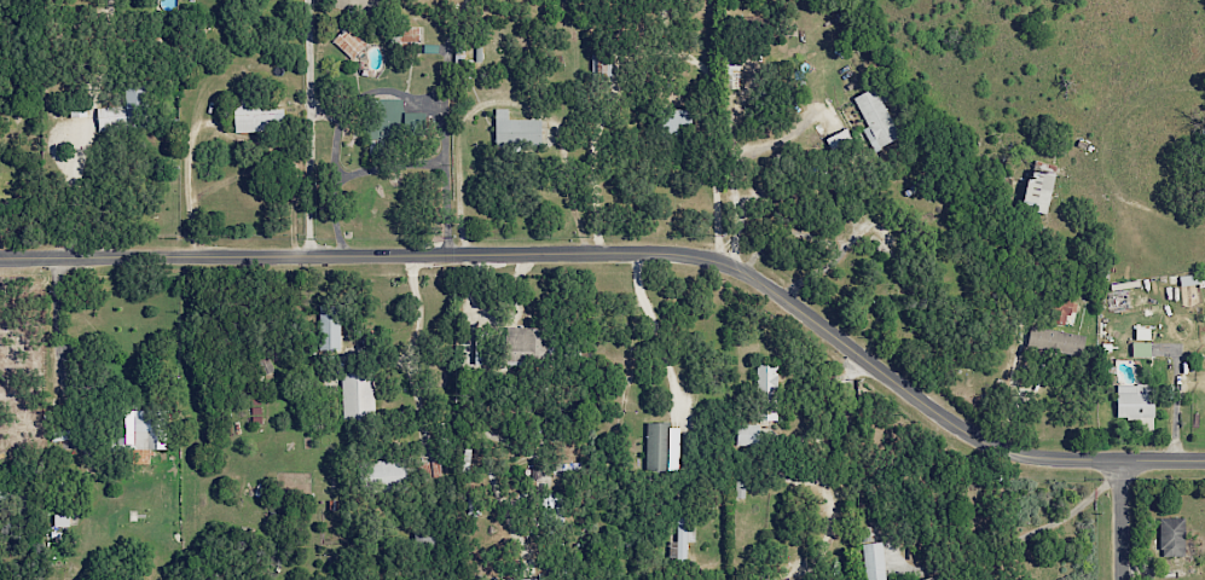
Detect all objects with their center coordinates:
building: (411, 30)
building: (348, 41)
building: (601, 65)
road: (386, 88)
building: (121, 111)
building: (256, 115)
building: (875, 118)
building: (676, 121)
building: (389, 123)
road: (308, 127)
building: (515, 128)
building: (838, 139)
road: (741, 157)
road: (386, 166)
road: (187, 185)
building: (1037, 191)
road: (632, 256)
building: (1192, 279)
building: (328, 327)
road: (653, 327)
building: (1055, 341)
building: (523, 344)
road: (410, 348)
building: (1140, 349)
building: (766, 391)
building: (357, 395)
building: (1134, 400)
building: (139, 429)
building: (661, 446)
building: (429, 469)
building: (384, 474)
building: (532, 480)
building: (738, 486)
building: (551, 506)
road: (1119, 521)
building: (1171, 536)
building: (680, 538)
building: (873, 561)
building: (789, 579)
building: (927, 579)

